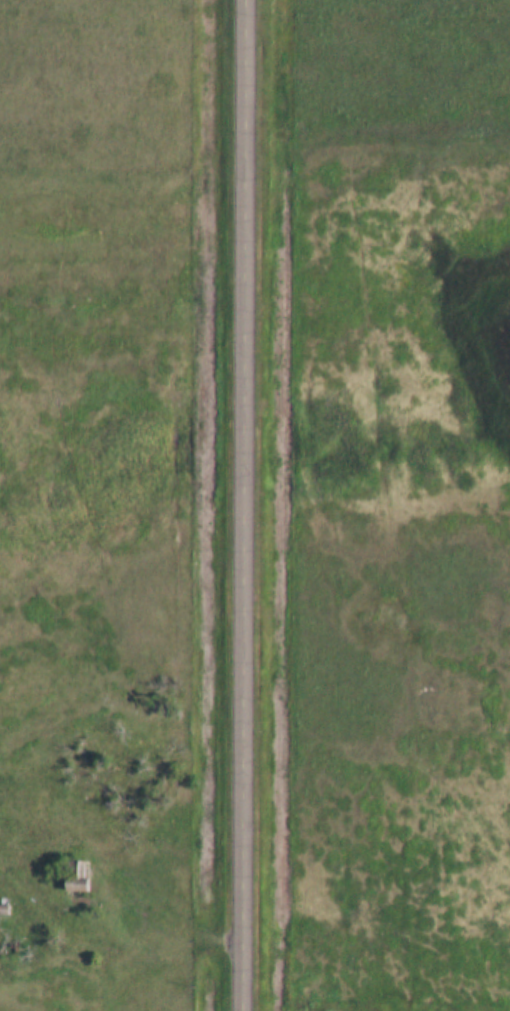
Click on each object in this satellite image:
road: (244, 505)
road: (138, 885)

